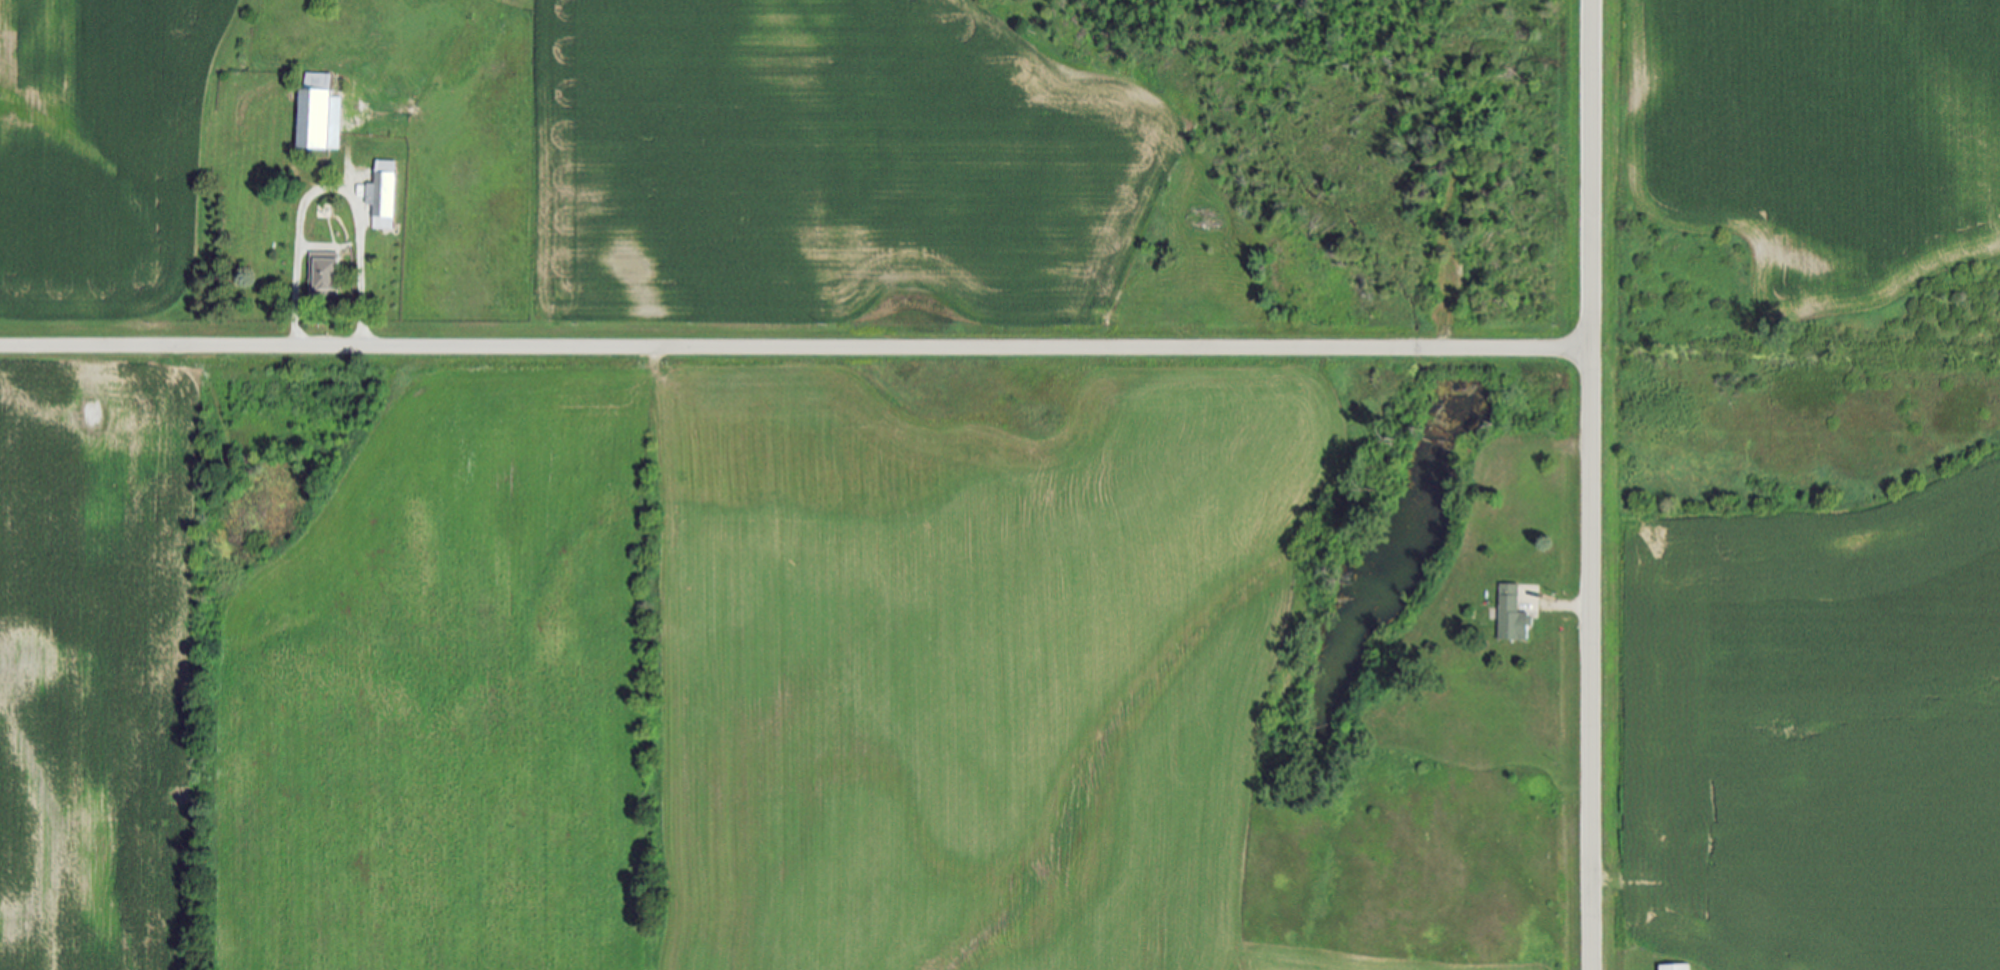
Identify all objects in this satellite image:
building: (322, 112)
road: (331, 189)
building: (385, 194)
building: (328, 272)
road: (795, 347)
road: (1590, 485)
road: (1570, 605)
building: (1515, 615)
building: (1678, 967)

